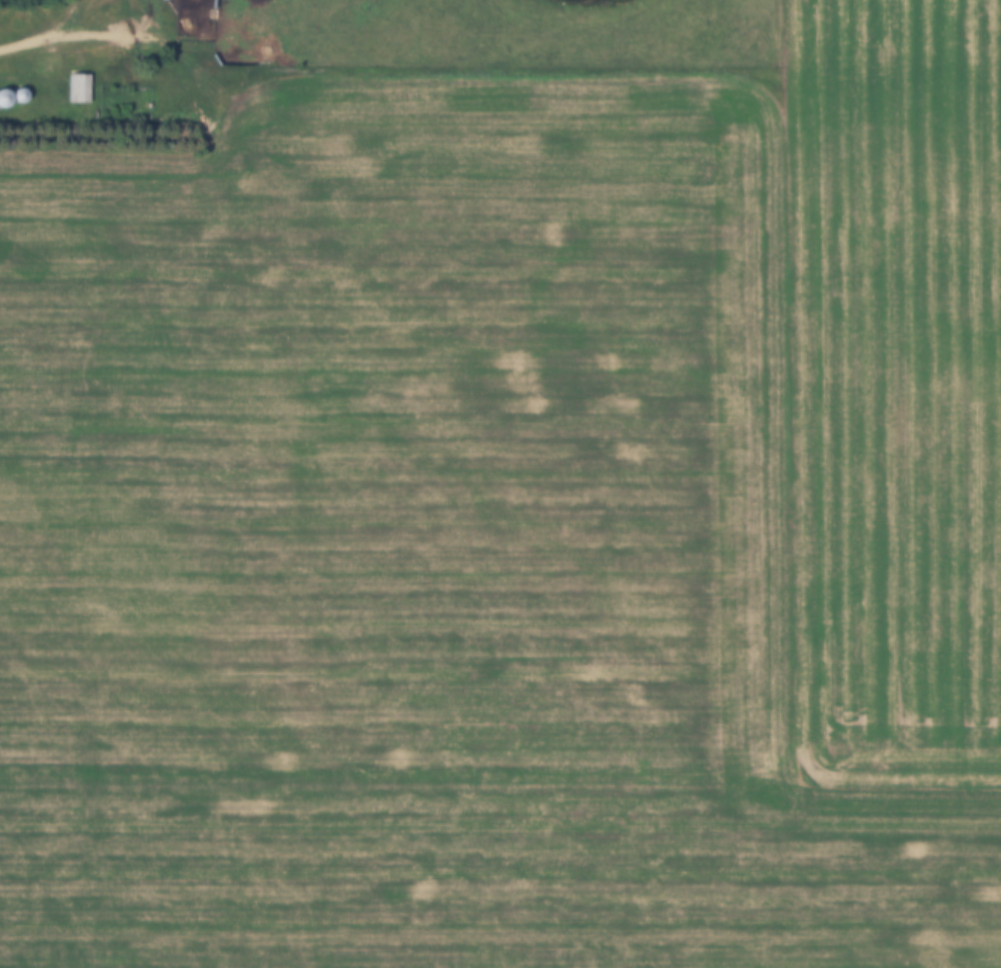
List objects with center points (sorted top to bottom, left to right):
road: (79, 33)
building: (51, 65)
building: (78, 90)
building: (17, 99)
building: (3, 100)

